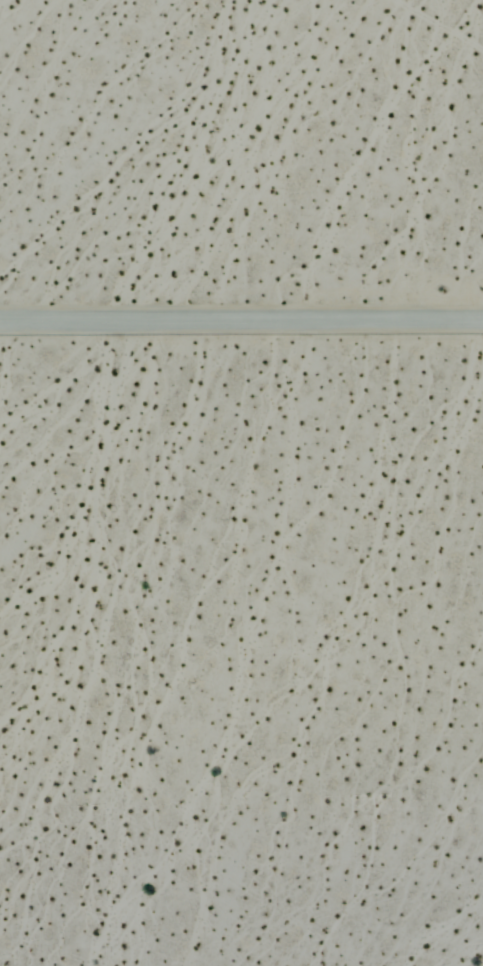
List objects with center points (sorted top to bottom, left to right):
solar farm: (241, 166)
road: (241, 320)

